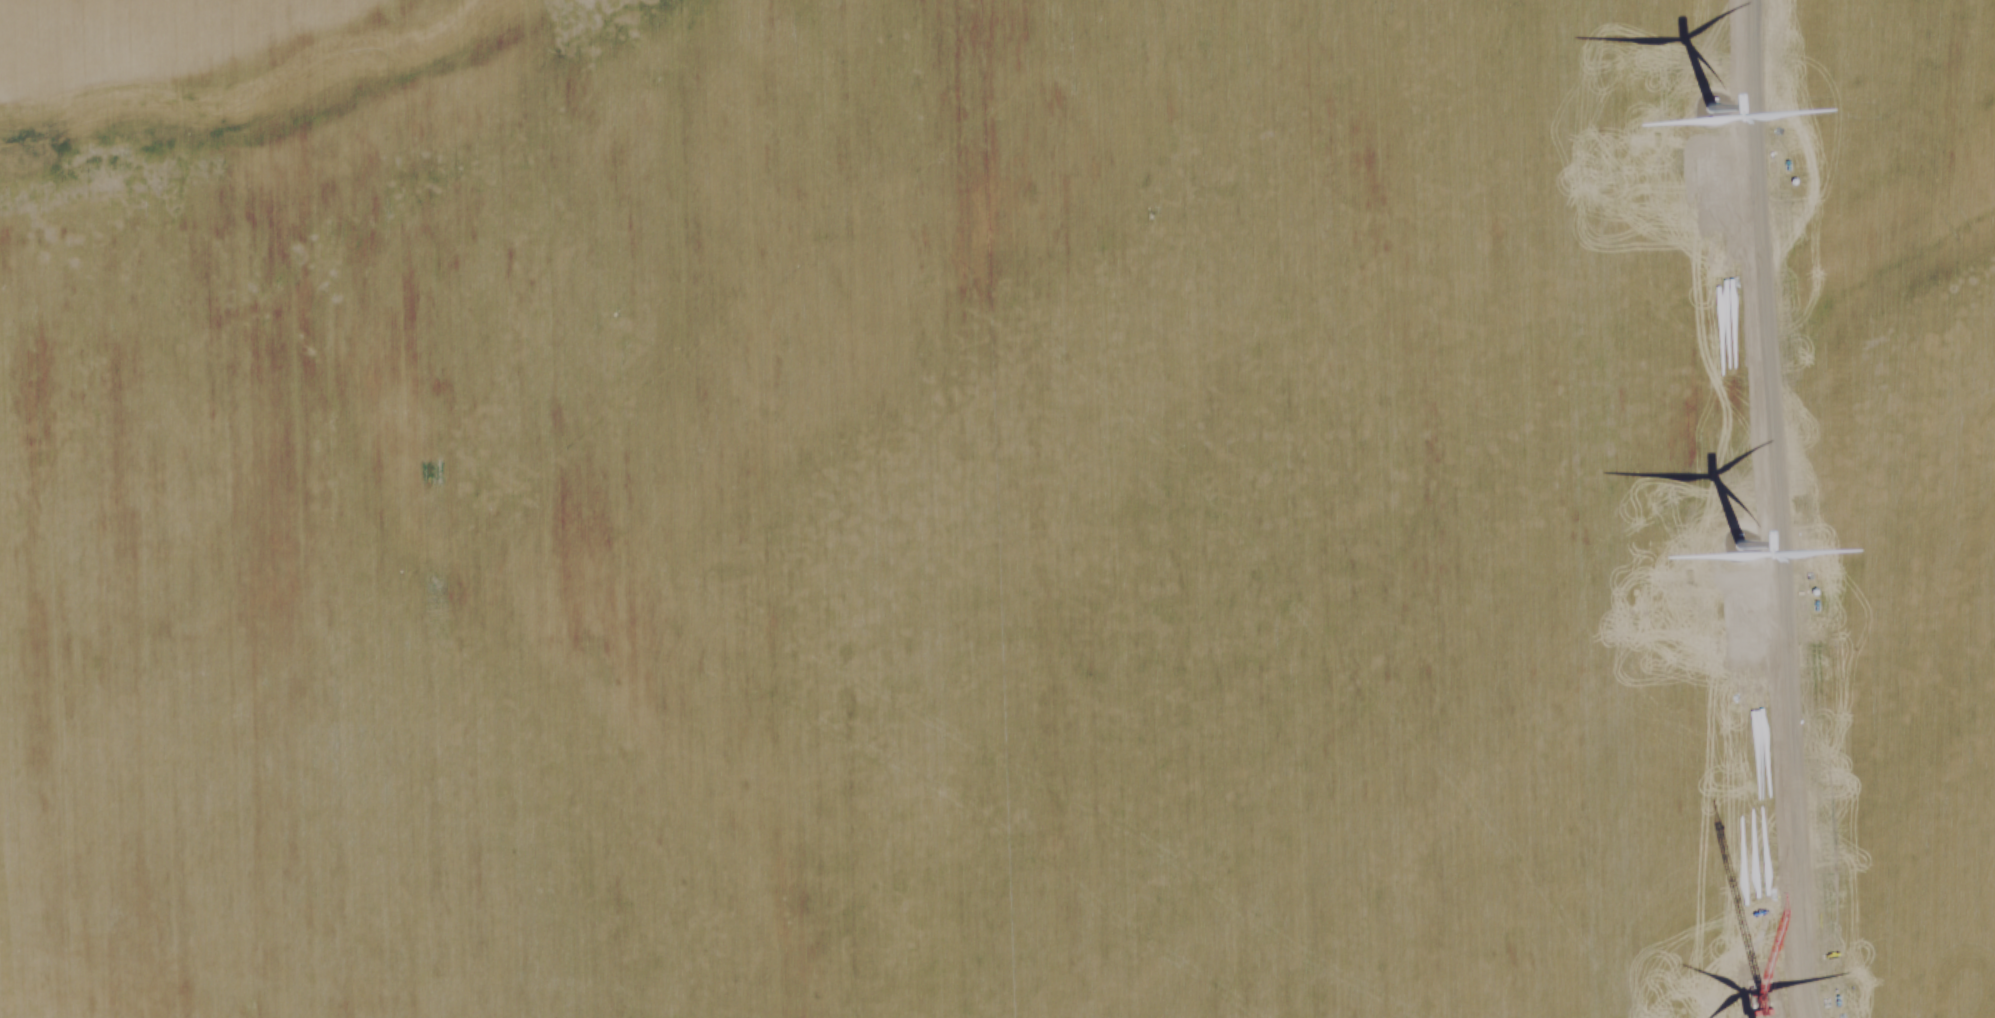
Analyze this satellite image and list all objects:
wind turbine: (1717, 110)
road: (1780, 509)
wind turbine: (1742, 543)

